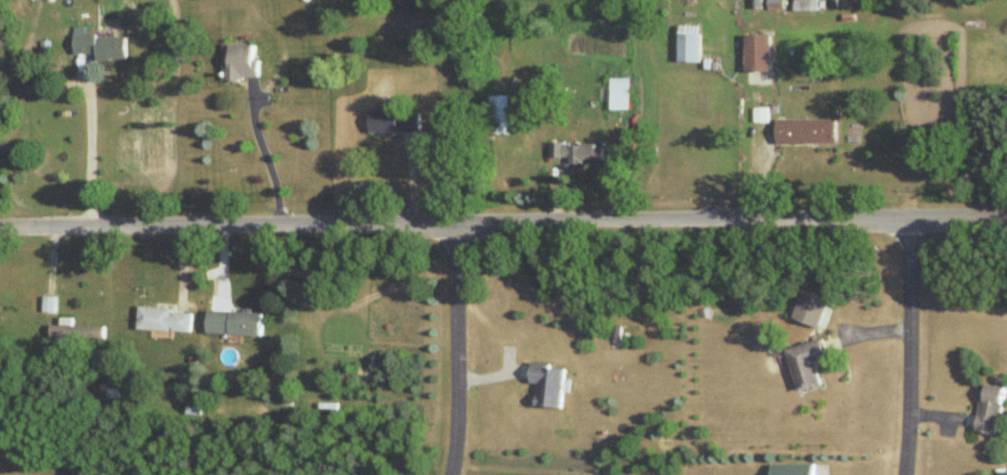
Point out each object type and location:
building: (806, 5)
building: (690, 45)
building: (101, 47)
building: (758, 54)
building: (242, 64)
building: (620, 99)
building: (500, 116)
building: (395, 123)
building: (805, 132)
road: (88, 152)
road: (264, 152)
building: (578, 154)
road: (503, 222)
building: (811, 310)
building: (155, 320)
building: (182, 323)
building: (234, 324)
building: (77, 332)
road: (917, 346)
road: (455, 349)
building: (806, 363)
building: (547, 386)
building: (990, 410)
building: (792, 469)

